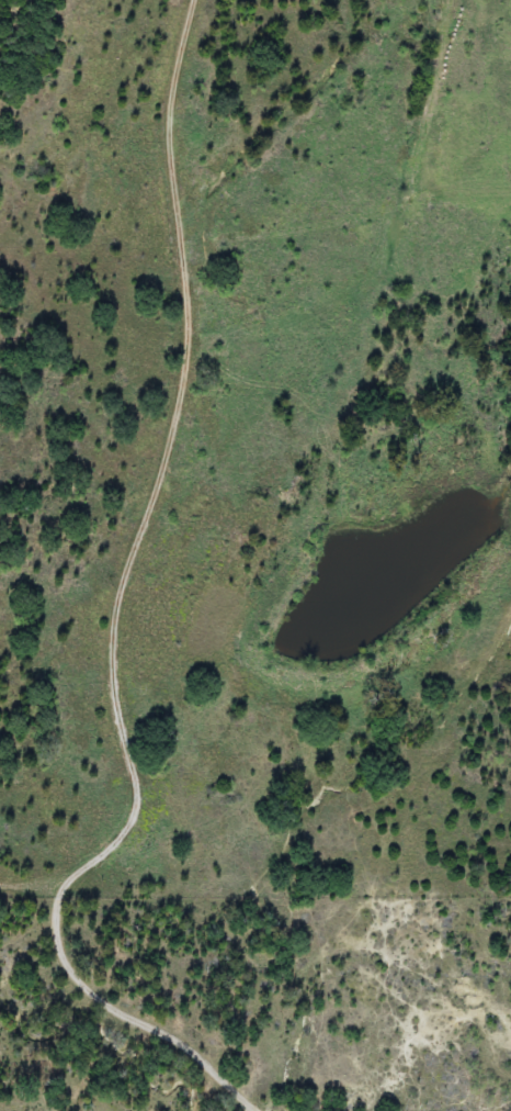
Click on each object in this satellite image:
airport: (470, 100)
road: (123, 614)
road: (35, 880)

